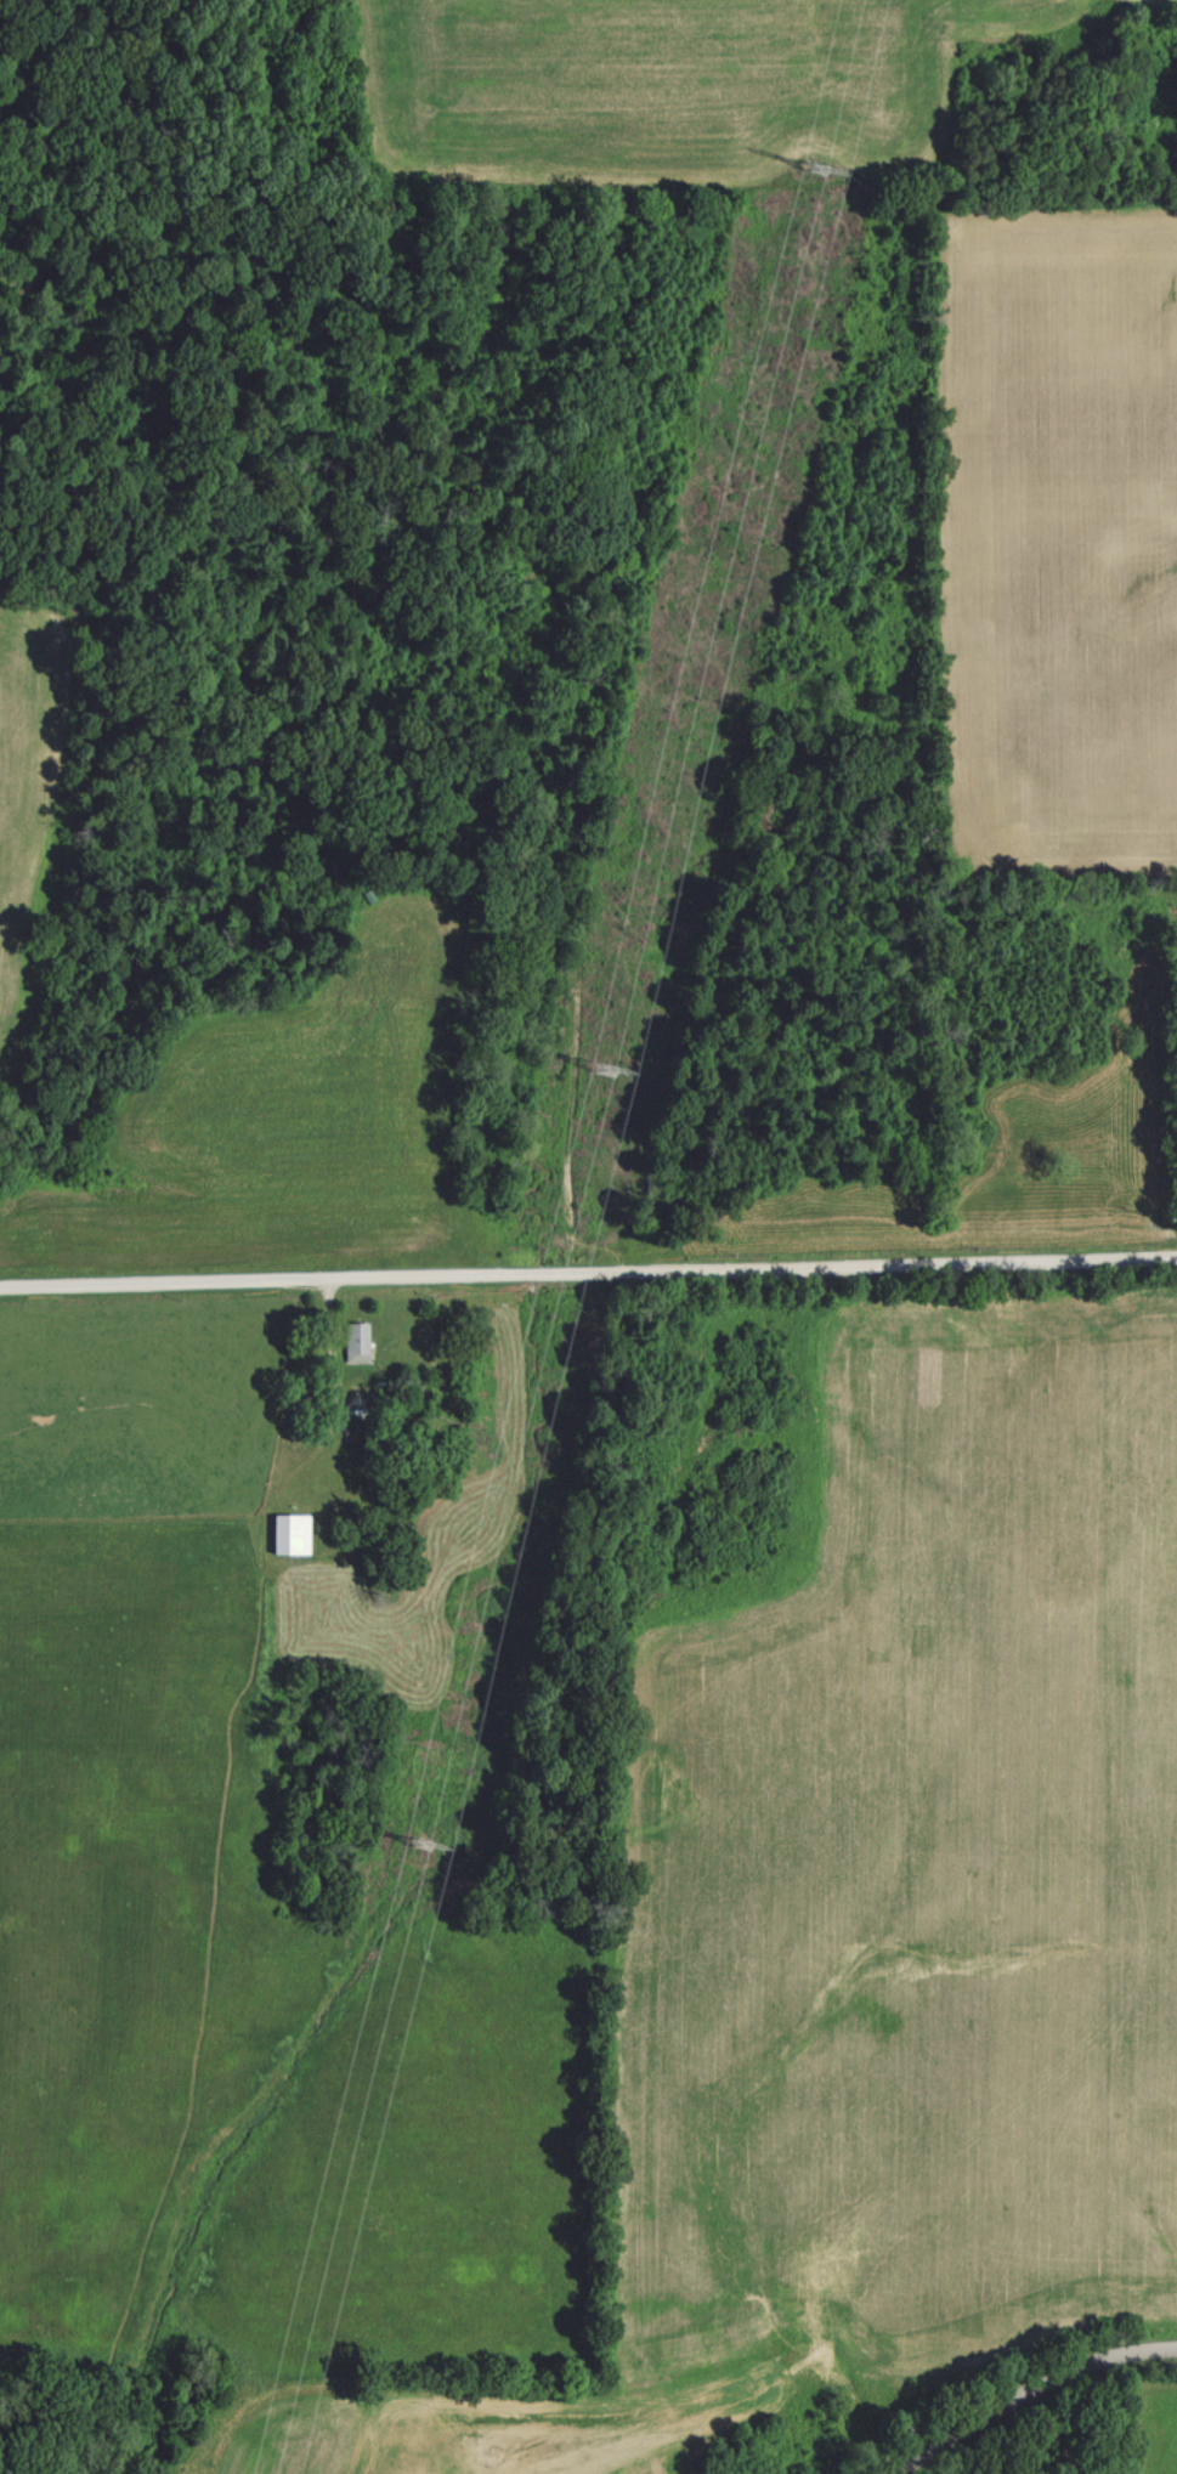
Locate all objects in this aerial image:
power tower: (815, 168)
power tower: (604, 1065)
road: (588, 1284)
building: (355, 1340)
building: (288, 1533)
power tower: (415, 1849)
road: (1031, 2389)

